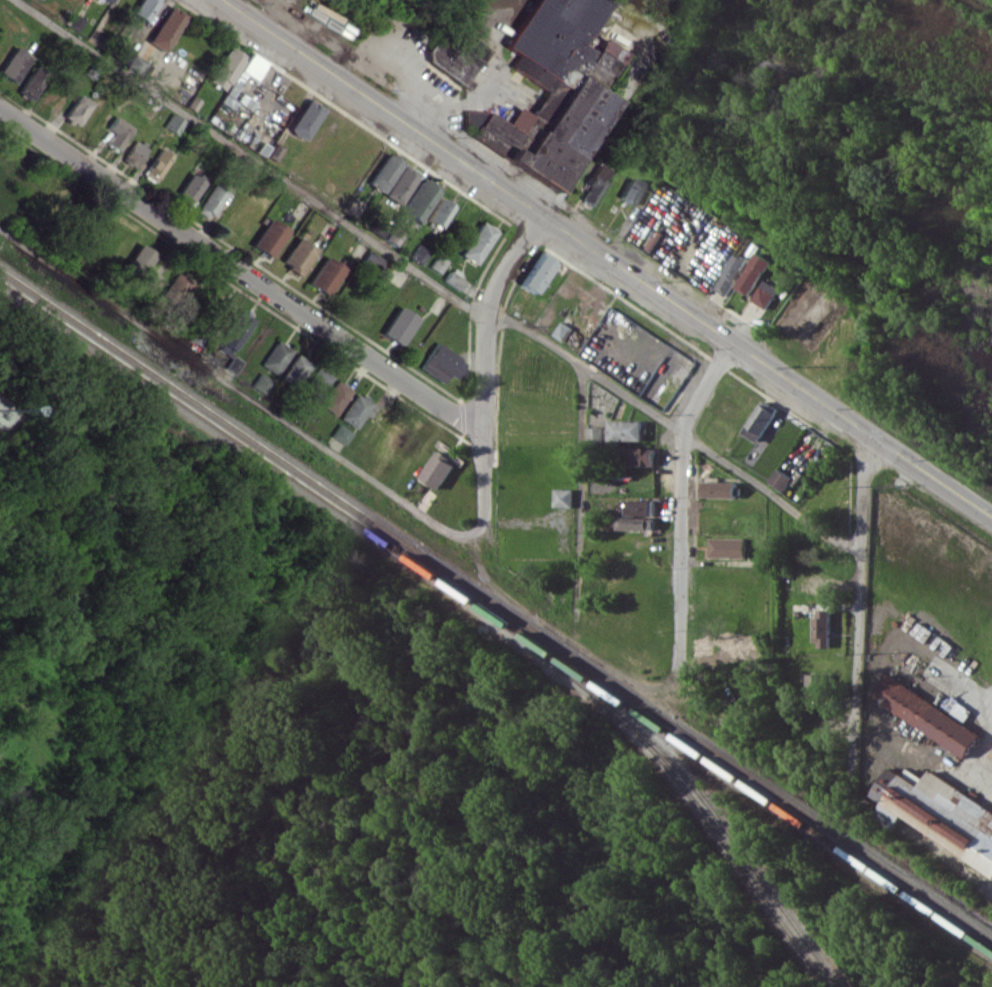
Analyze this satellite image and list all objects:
building: (108, 0)
building: (145, 8)
building: (166, 28)
building: (456, 57)
building: (136, 63)
building: (14, 64)
road: (490, 66)
building: (226, 68)
building: (33, 82)
building: (552, 91)
building: (78, 109)
road: (437, 109)
building: (306, 119)
building: (174, 123)
building: (117, 132)
road: (593, 146)
building: (135, 153)
building: (157, 165)
building: (393, 178)
building: (594, 184)
building: (190, 188)
building: (629, 190)
building: (212, 199)
building: (419, 200)
building: (439, 212)
building: (394, 232)
building: (269, 237)
building: (478, 242)
building: (419, 253)
building: (298, 255)
road: (607, 258)
building: (140, 260)
building: (373, 260)
building: (438, 263)
road: (241, 270)
building: (537, 271)
building: (729, 273)
building: (751, 273)
building: (326, 275)
building: (454, 279)
road: (434, 283)
building: (178, 288)
building: (763, 293)
building: (223, 309)
building: (399, 325)
building: (236, 330)
building: (276, 356)
road: (484, 361)
building: (442, 363)
building: (233, 364)
building: (296, 371)
building: (262, 382)
building: (317, 384)
road: (240, 391)
building: (336, 397)
building: (356, 410)
building: (758, 422)
building: (625, 430)
building: (341, 433)
building: (595, 434)
building: (638, 455)
building: (437, 469)
building: (780, 479)
building: (718, 489)
building: (562, 497)
road: (680, 502)
building: (636, 506)
road: (580, 519)
building: (635, 523)
building: (726, 547)
railway: (495, 605)
road: (858, 611)
railway: (496, 614)
building: (822, 627)
building: (818, 684)
building: (926, 715)
building: (991, 756)
railway: (691, 783)
building: (938, 813)
railway: (719, 837)

